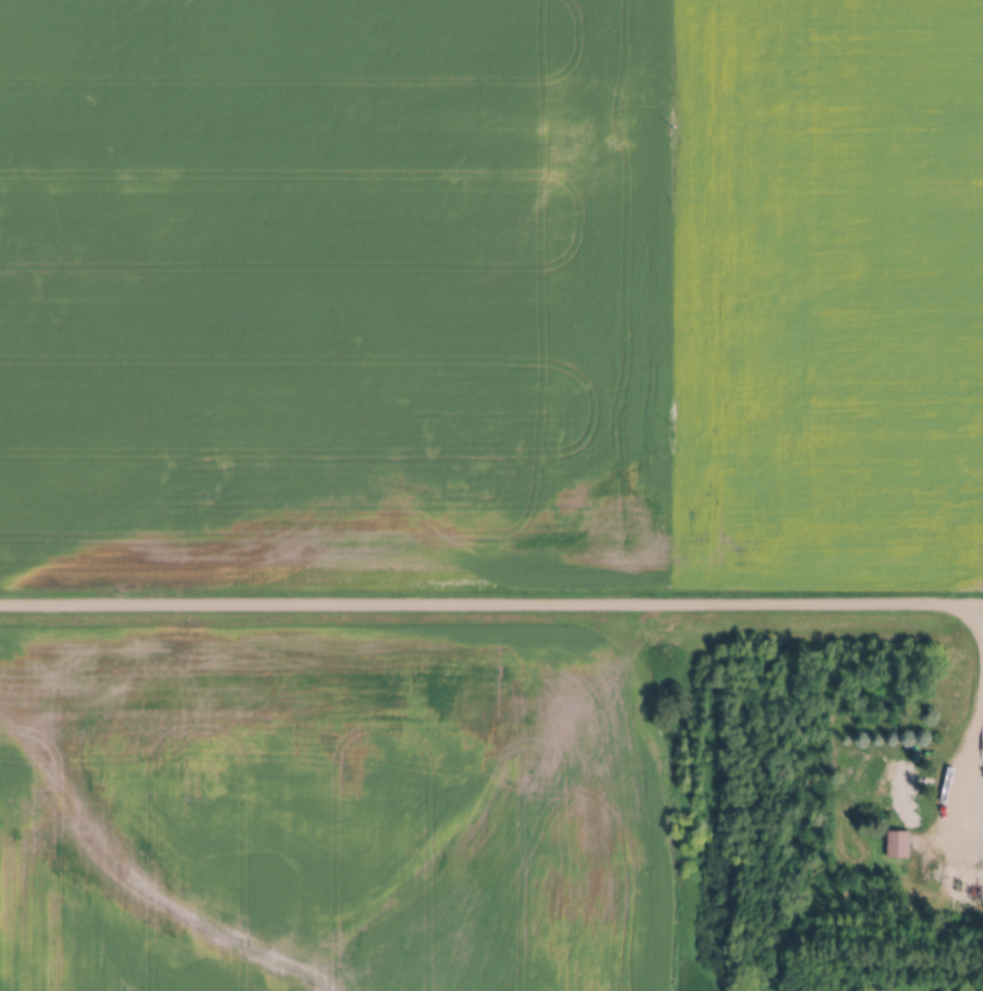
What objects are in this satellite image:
road: (978, 601)
road: (486, 603)
road: (979, 685)
building: (899, 784)
building: (898, 845)
building: (956, 877)
silo: (956, 877)
building: (973, 878)
silo: (973, 878)

